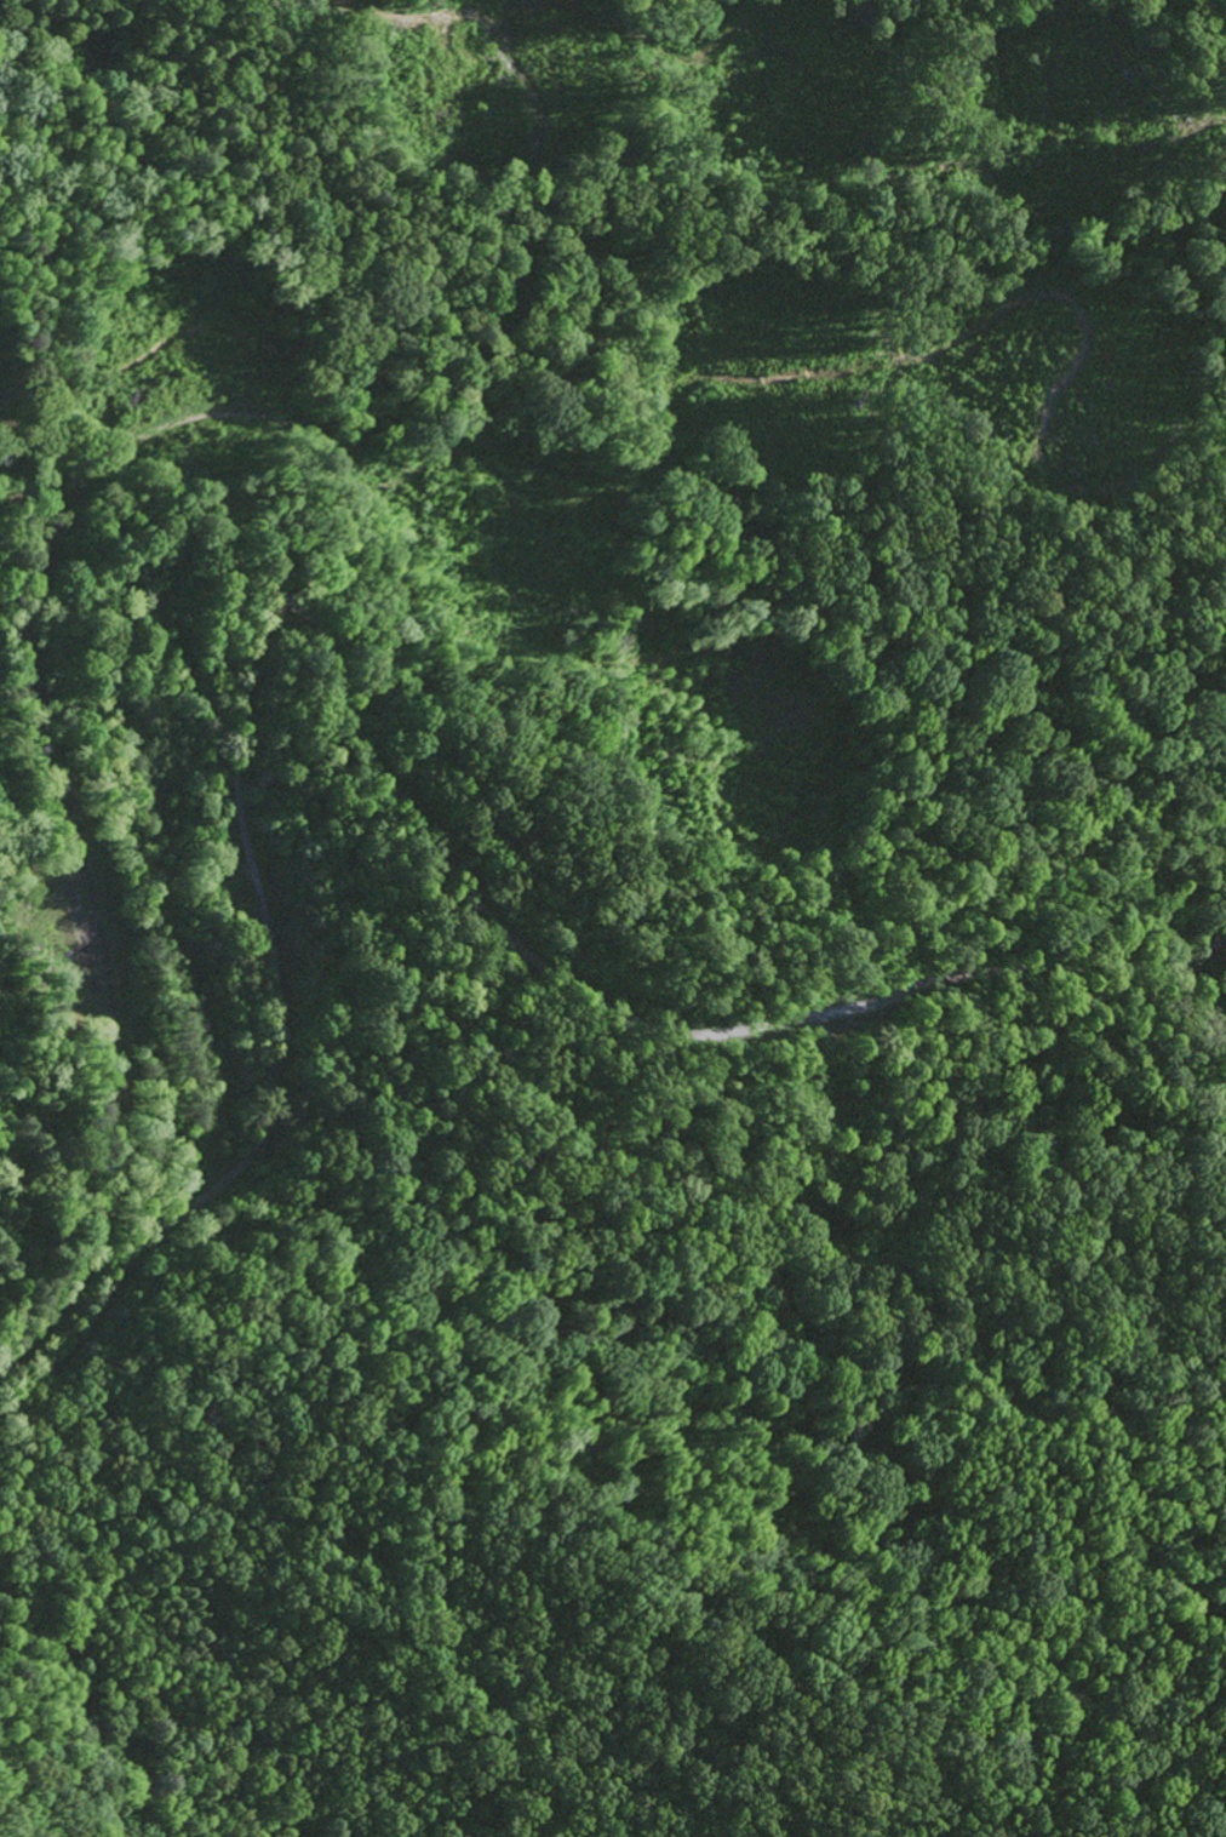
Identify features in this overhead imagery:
road: (333, 708)
road: (1220, 942)
road: (133, 1114)
road: (1027, 1696)

